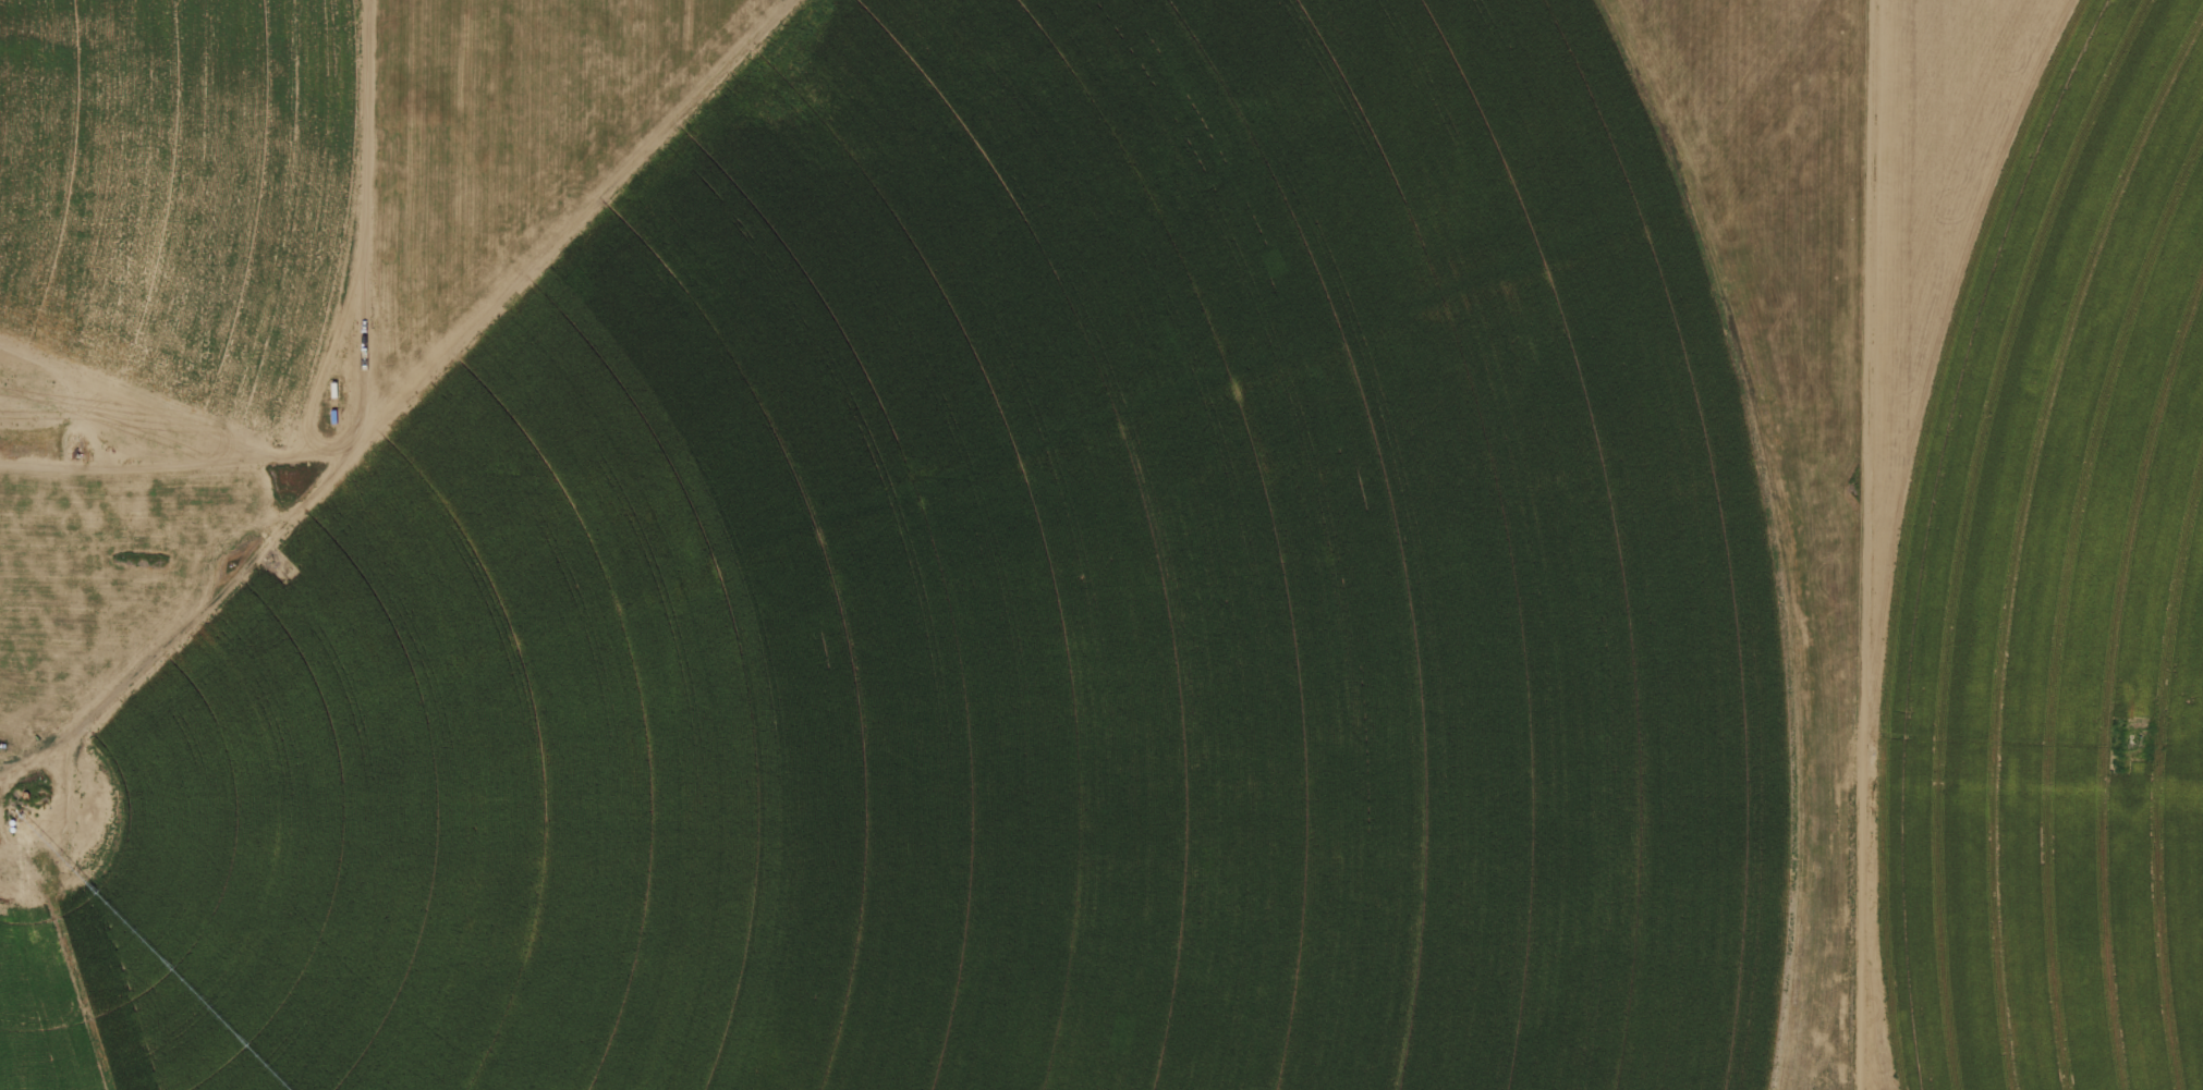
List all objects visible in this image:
road: (1892, 409)
road: (1876, 942)

